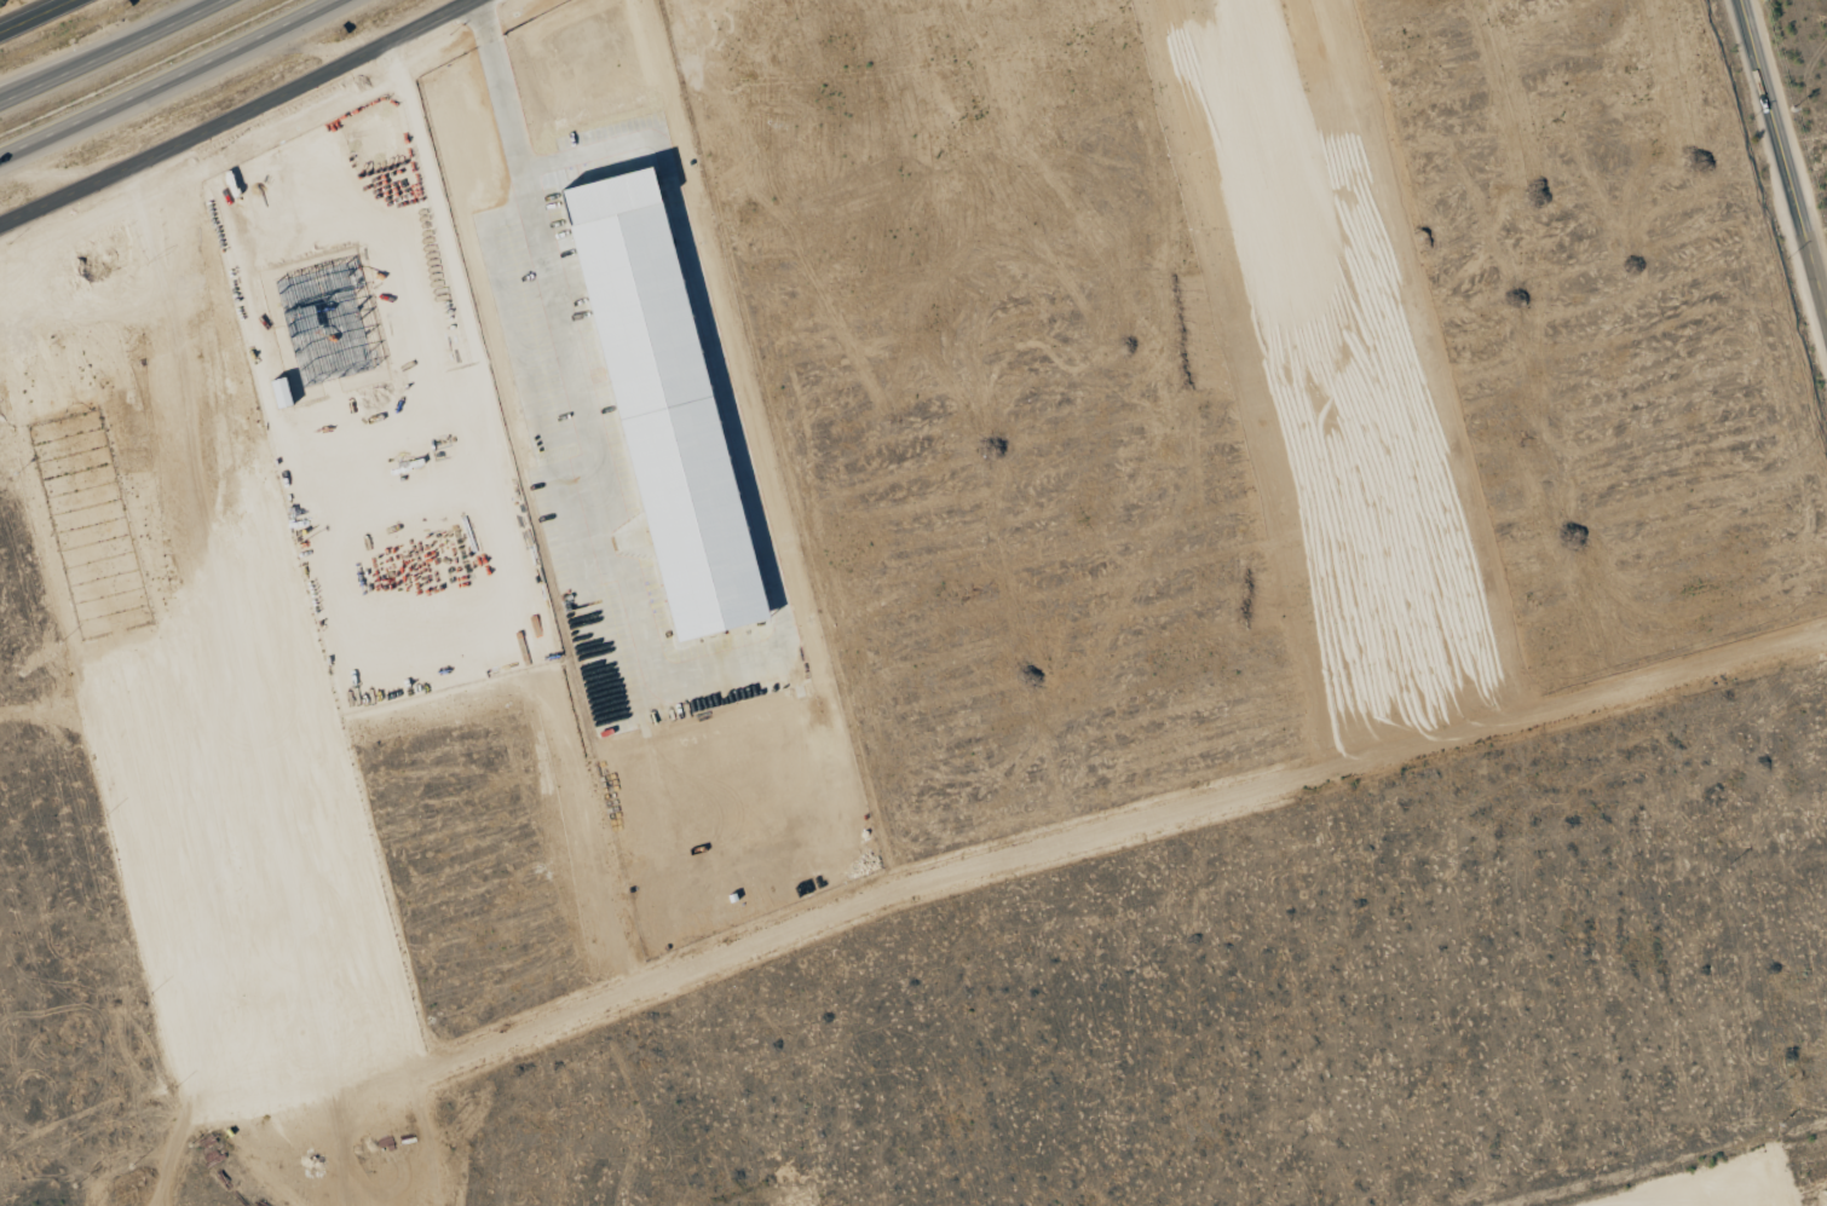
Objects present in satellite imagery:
road: (42, 18)
road: (110, 51)
road: (165, 79)
road: (237, 115)
road: (1786, 151)
road: (1048, 844)

